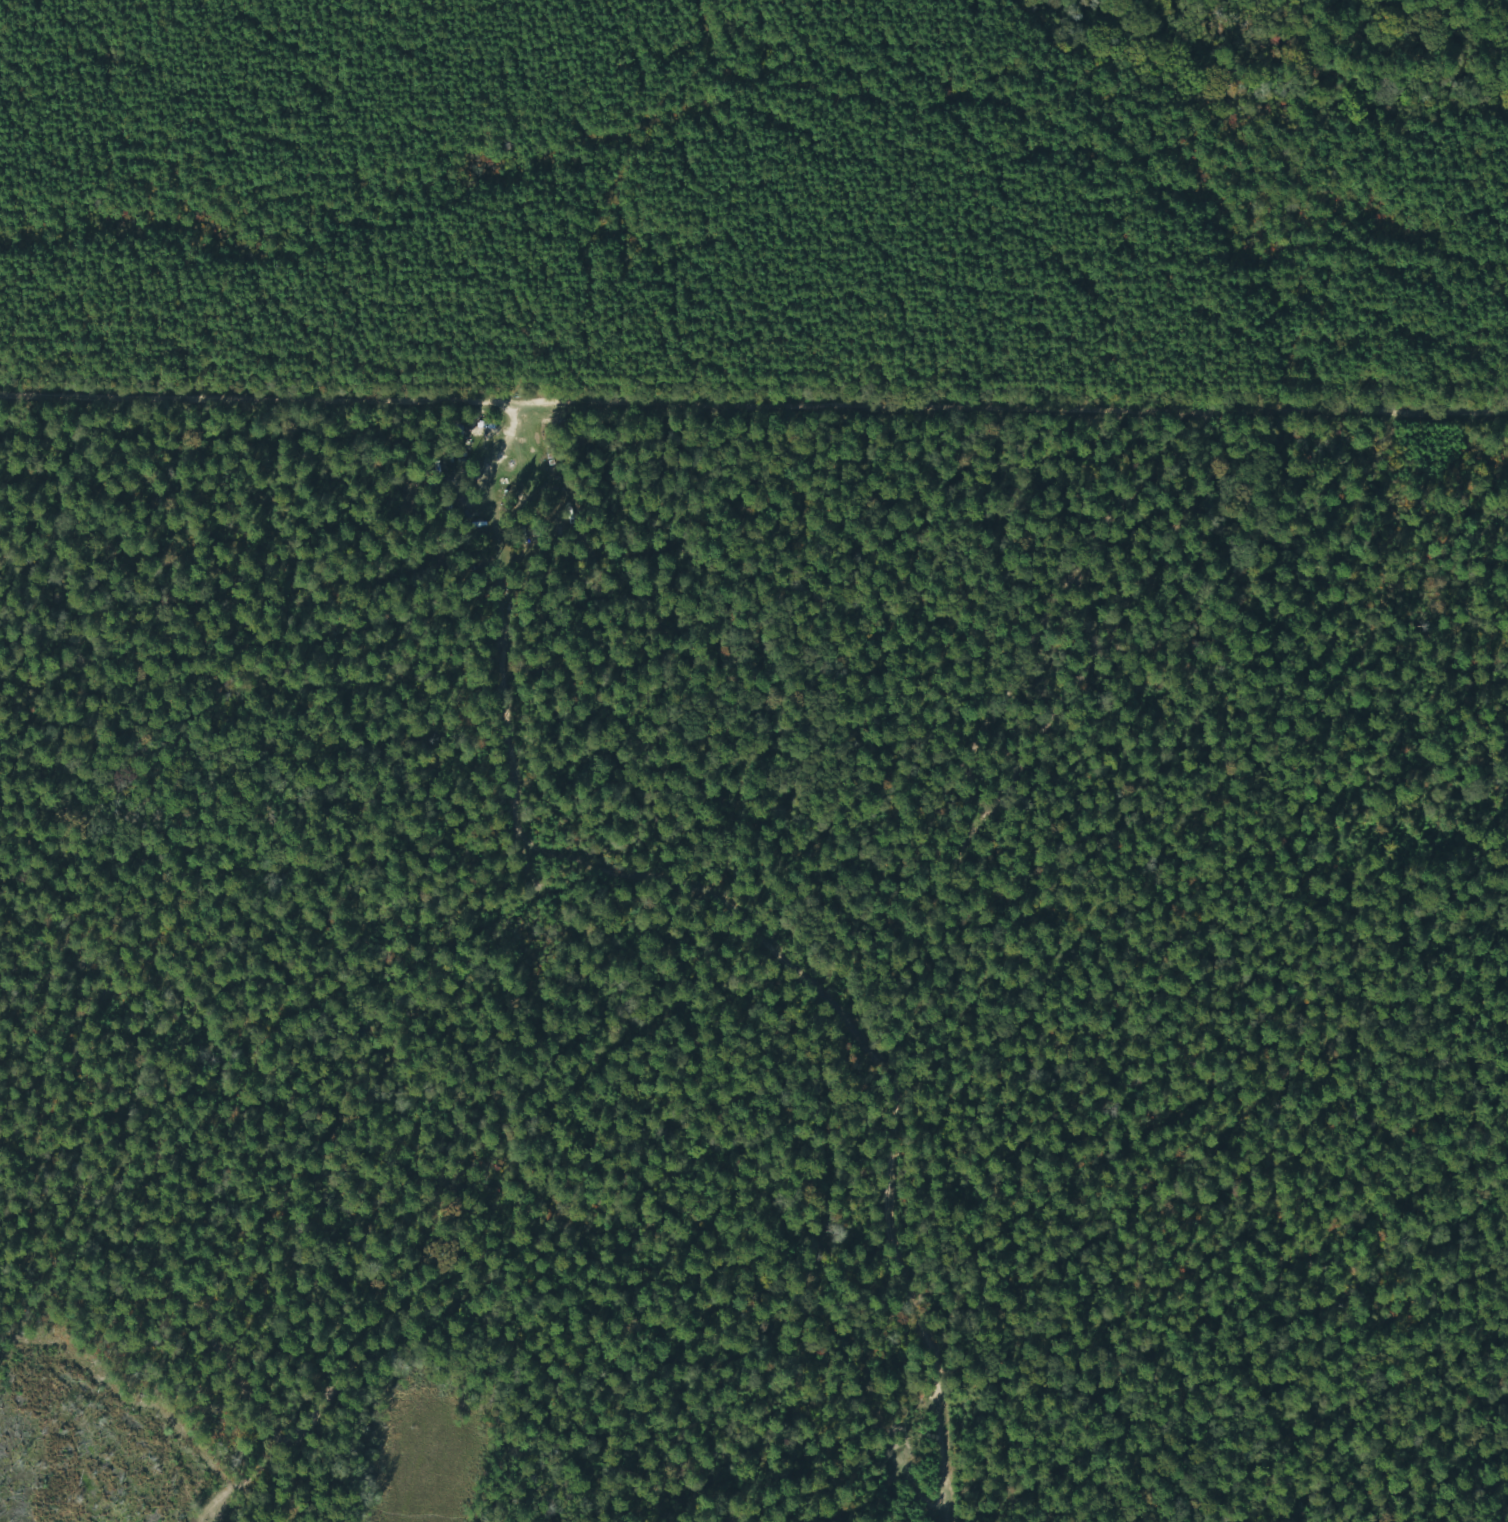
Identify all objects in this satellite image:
road: (754, 398)

